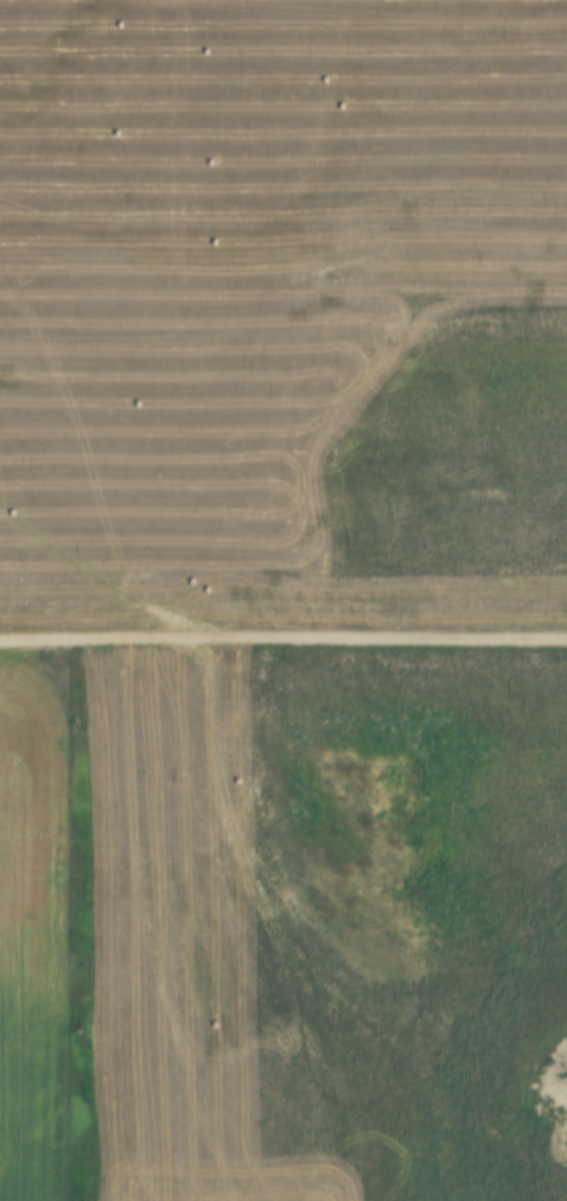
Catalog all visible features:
road: (282, 639)

